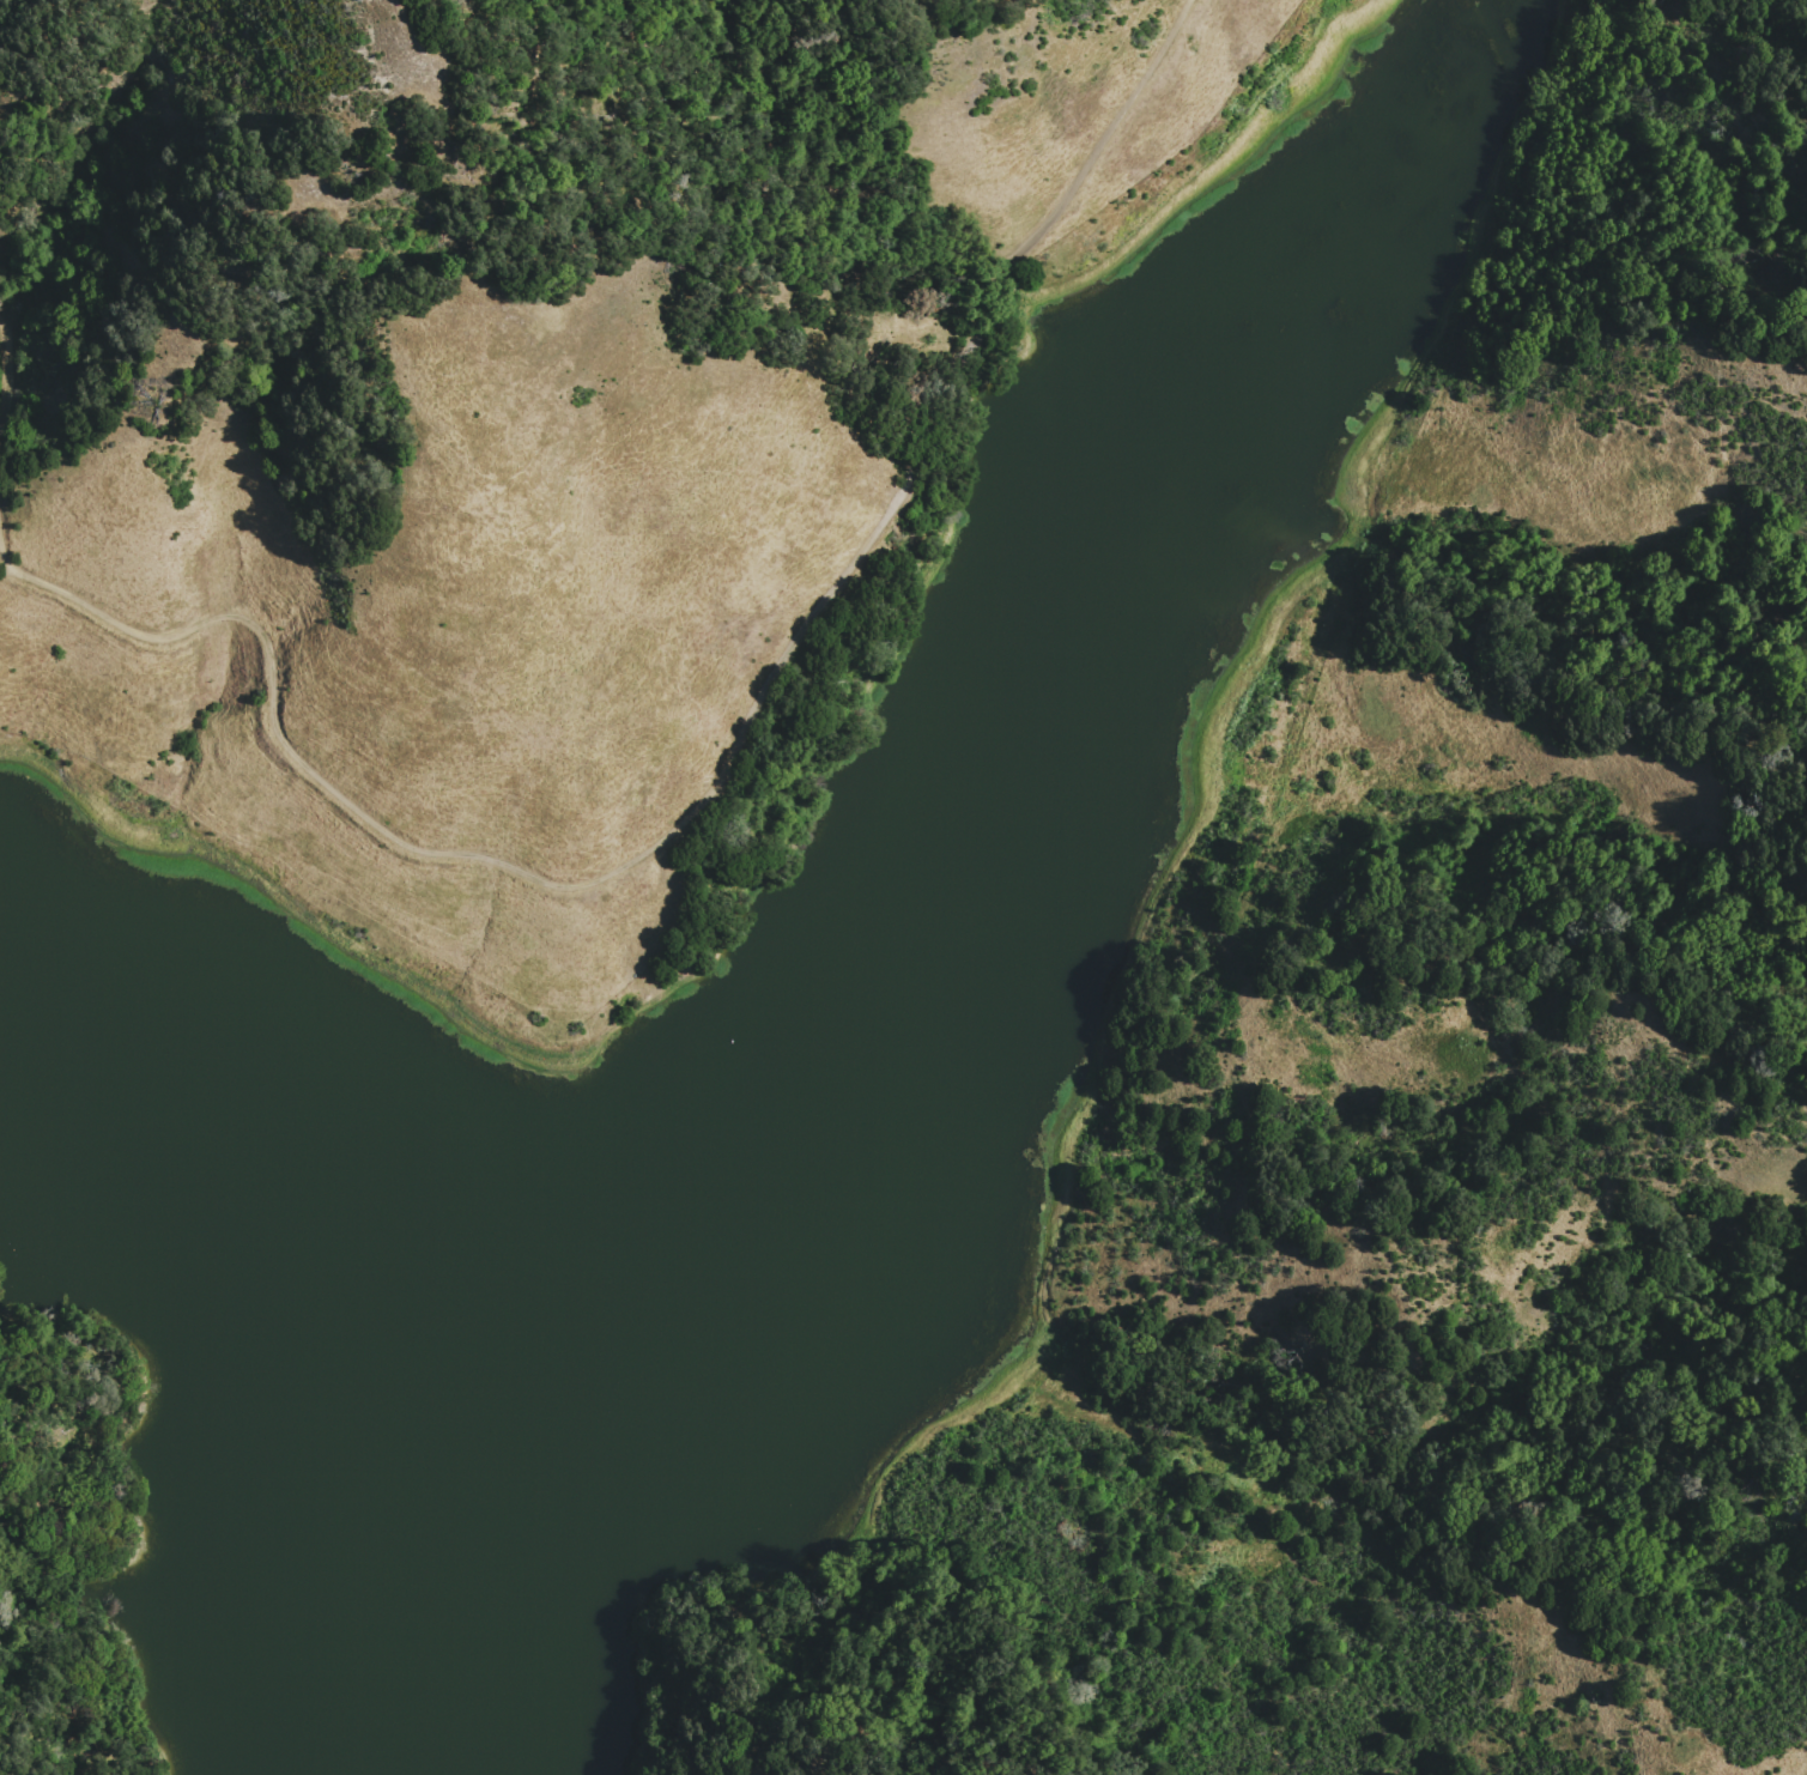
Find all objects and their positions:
road: (6, 357)
road: (716, 796)

